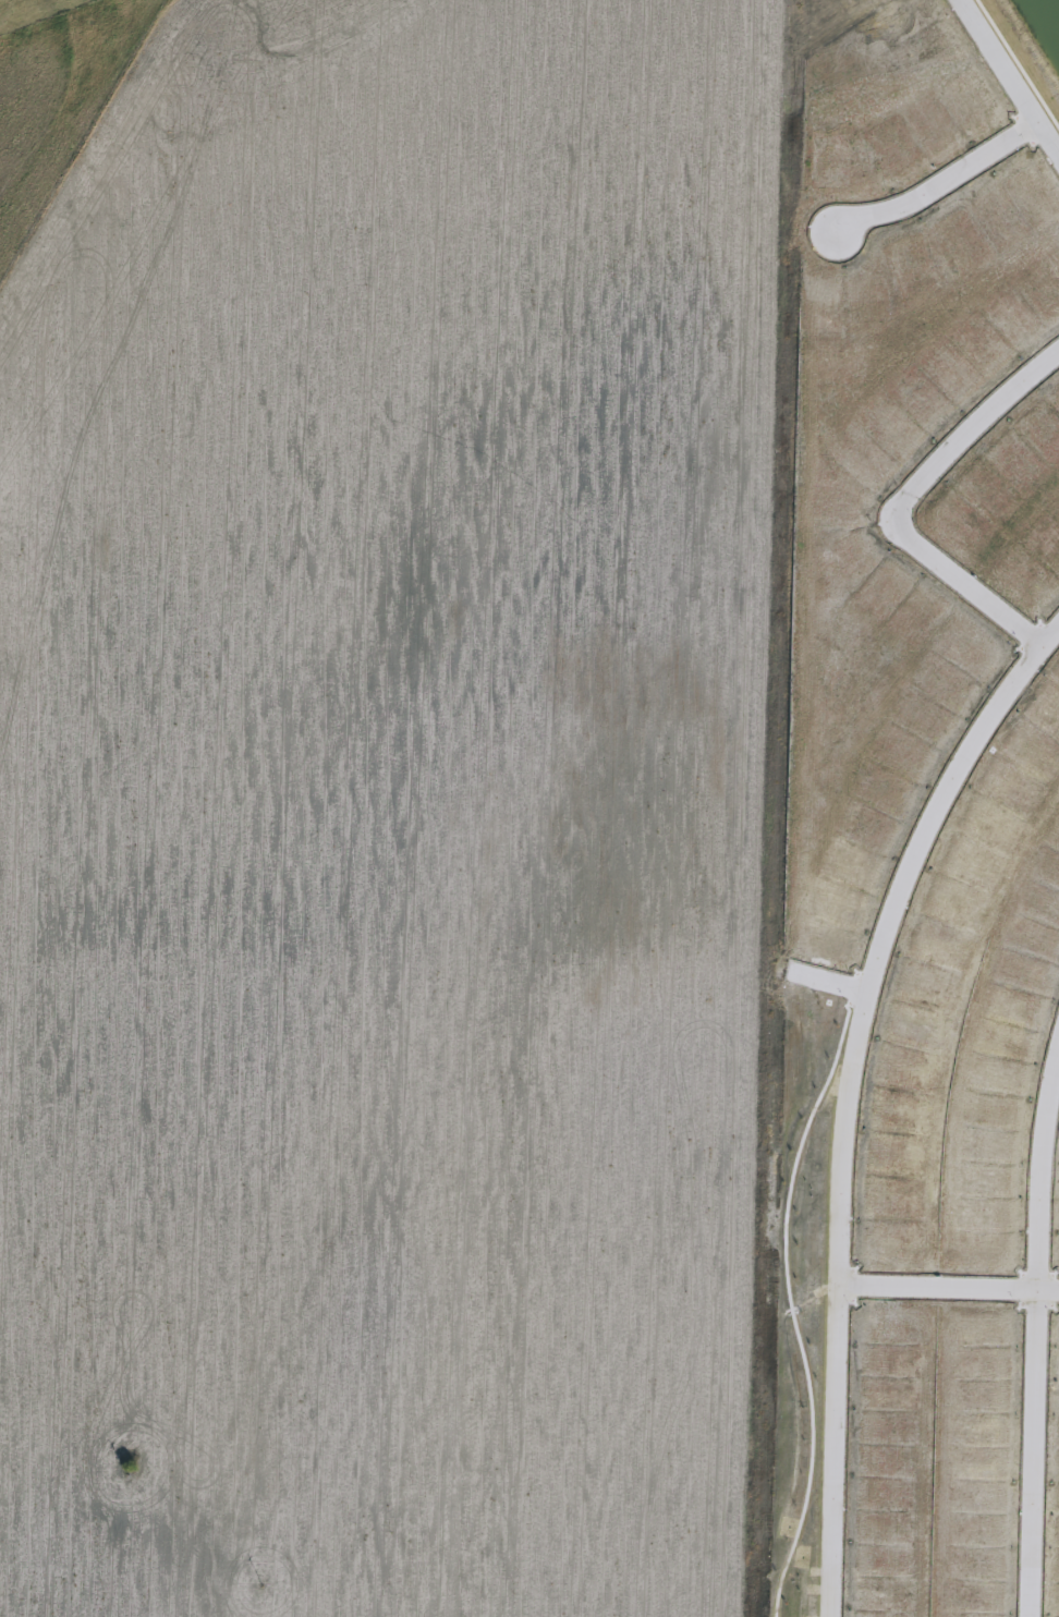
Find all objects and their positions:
road: (1010, 77)
road: (939, 183)
road: (973, 430)
road: (965, 583)
road: (828, 983)
road: (847, 1093)
road: (947, 1289)
road: (1035, 1333)

